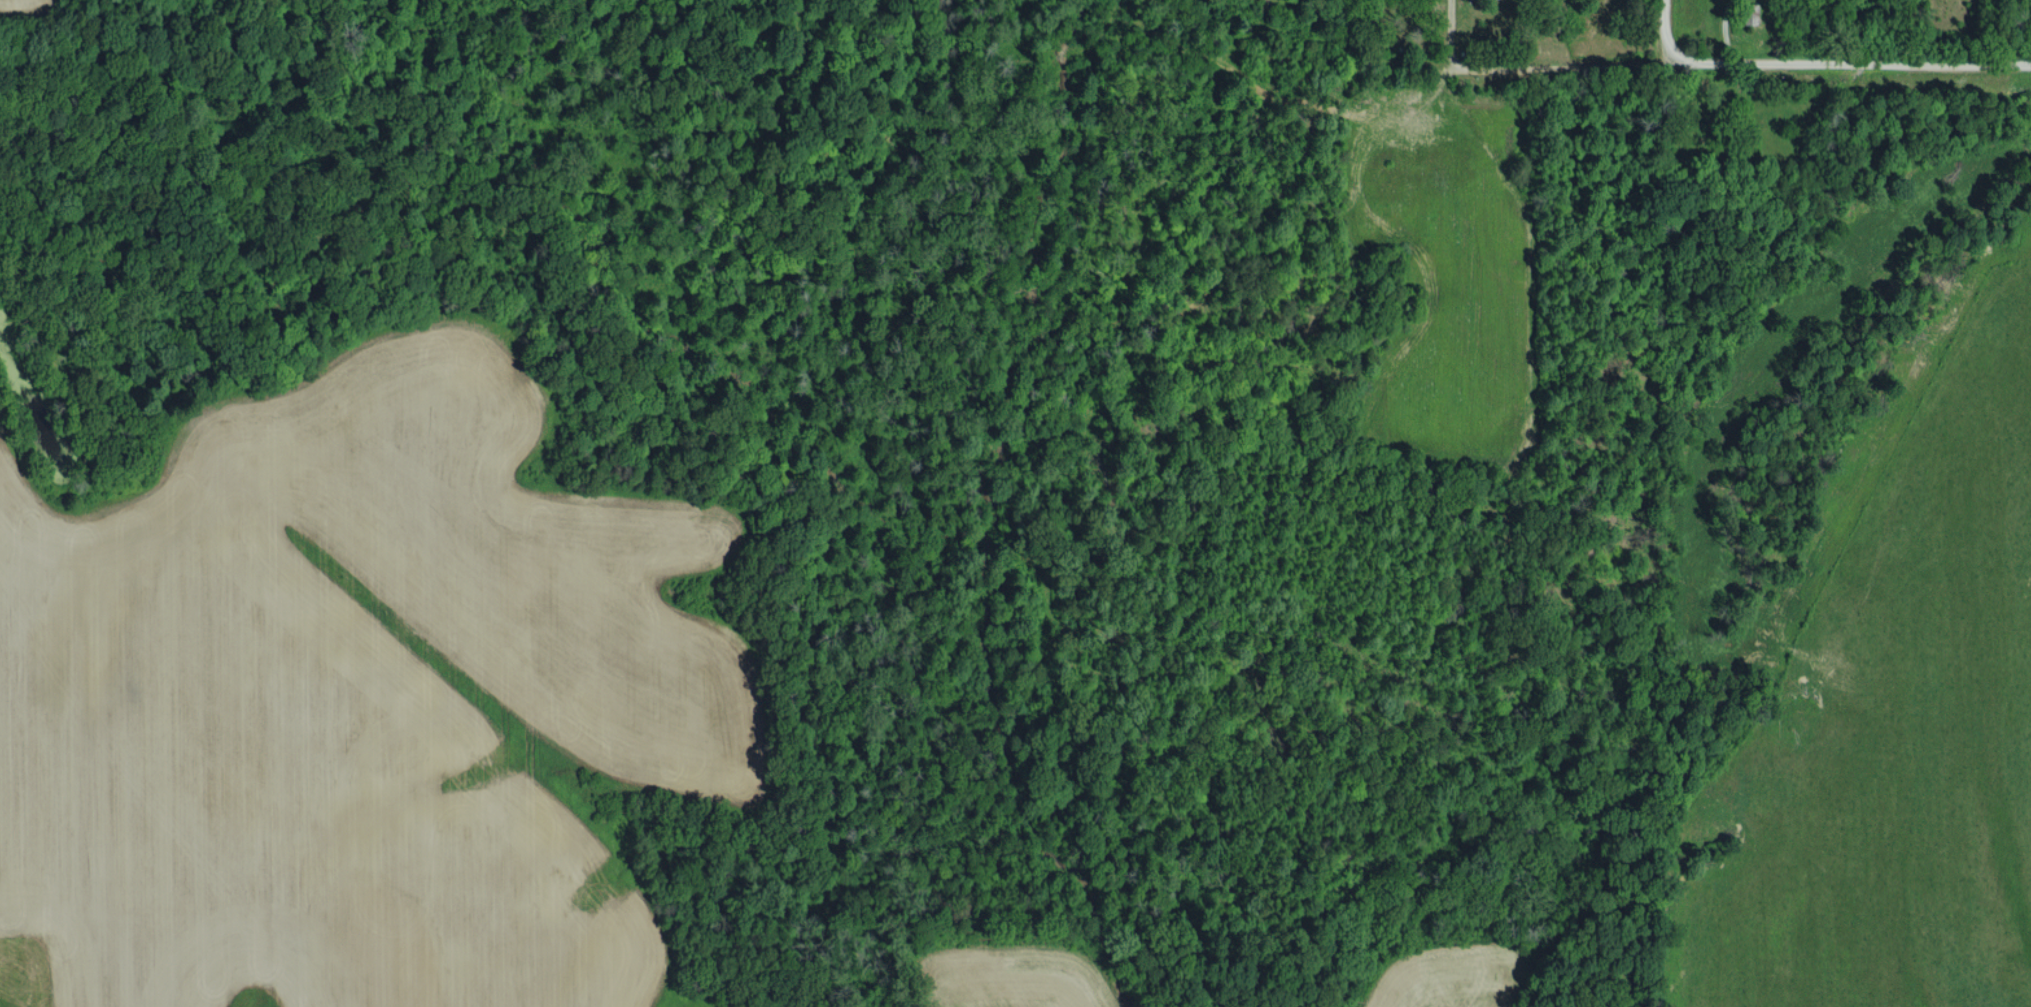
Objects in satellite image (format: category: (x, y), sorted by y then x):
road: (1822, 67)

